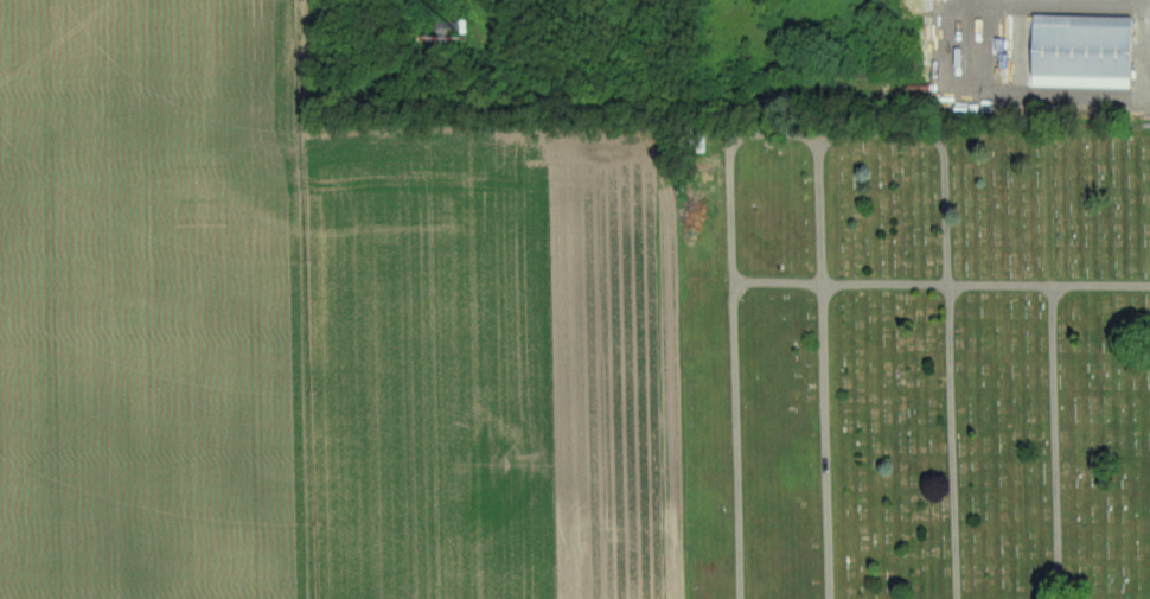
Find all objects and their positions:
building: (452, 28)
building: (1086, 51)
road: (1035, 96)
building: (698, 139)
road: (943, 287)
crop: (155, 304)
road: (952, 307)
road: (736, 321)
park: (915, 362)
road: (826, 376)
road: (1060, 444)

